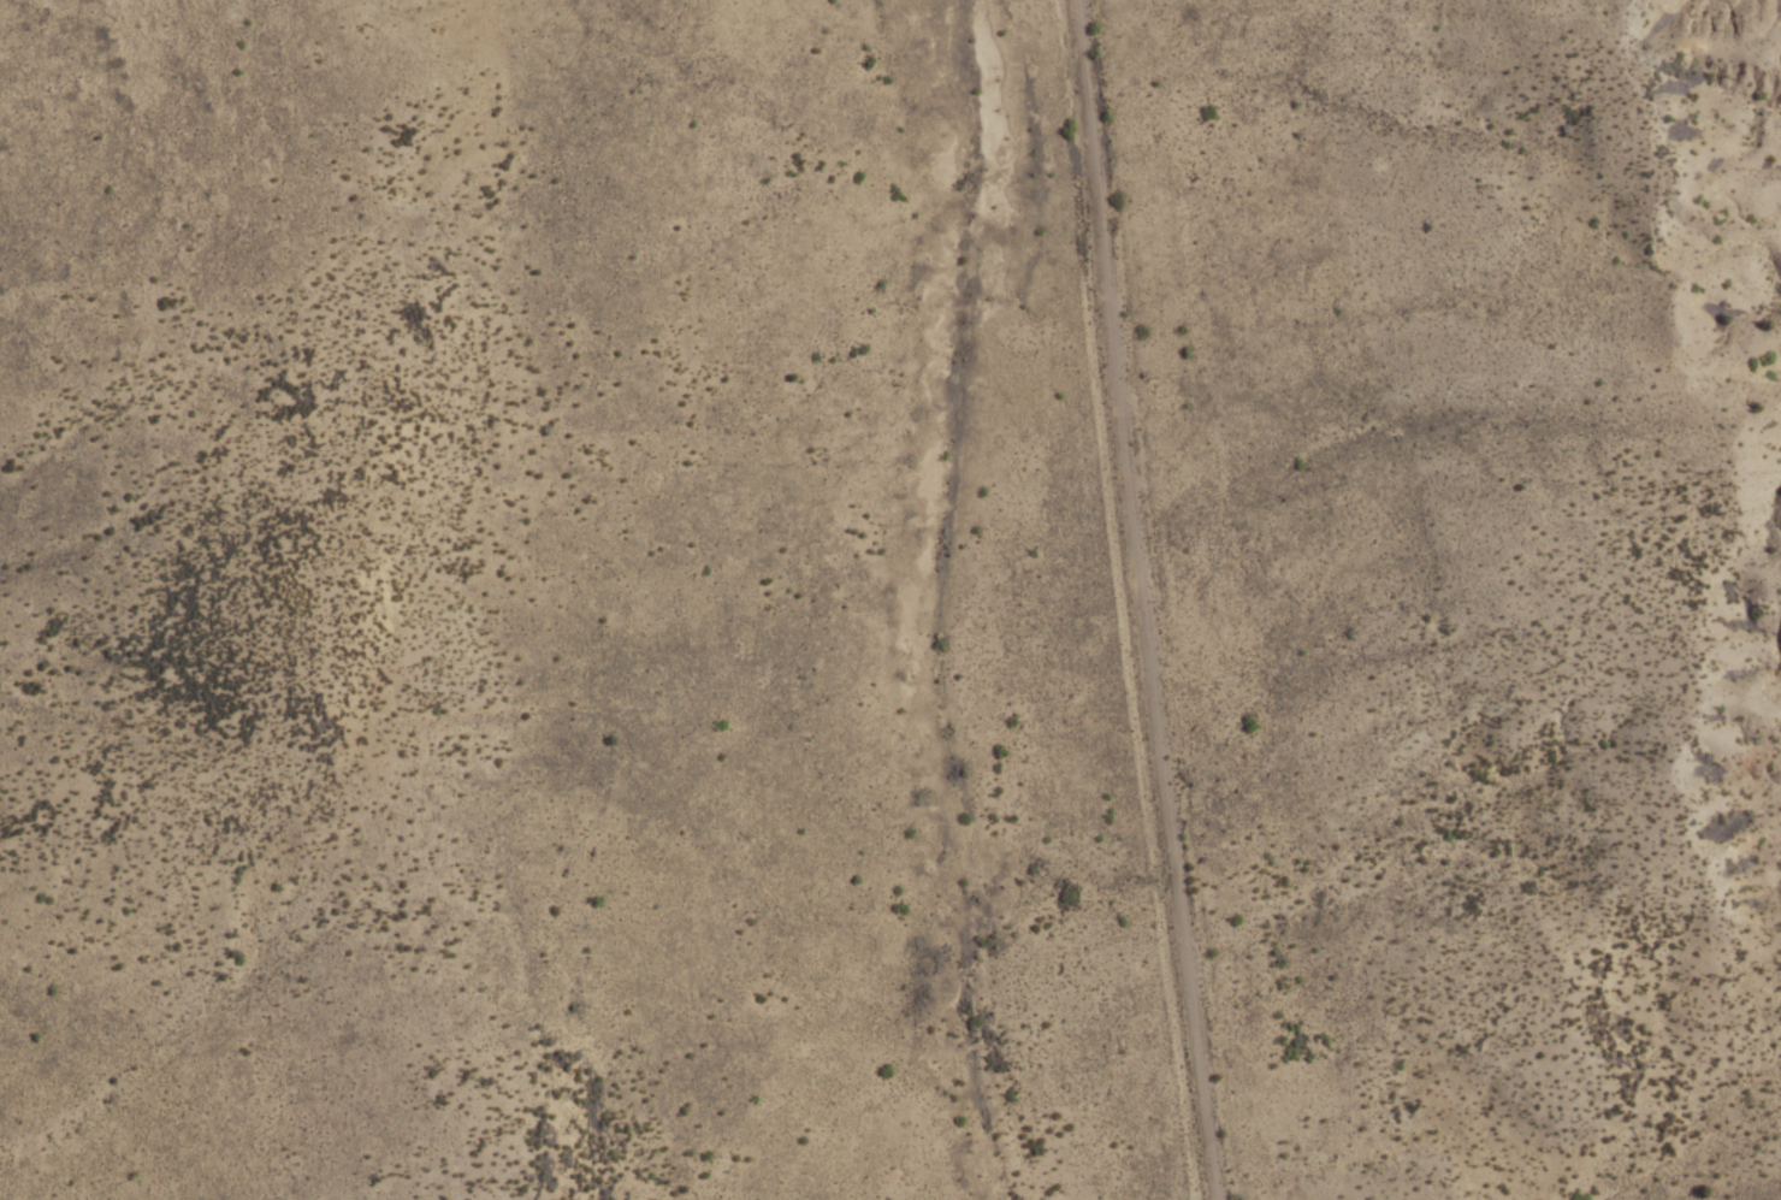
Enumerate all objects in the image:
road: (1674, 278)
road: (1756, 568)
road: (1140, 601)

